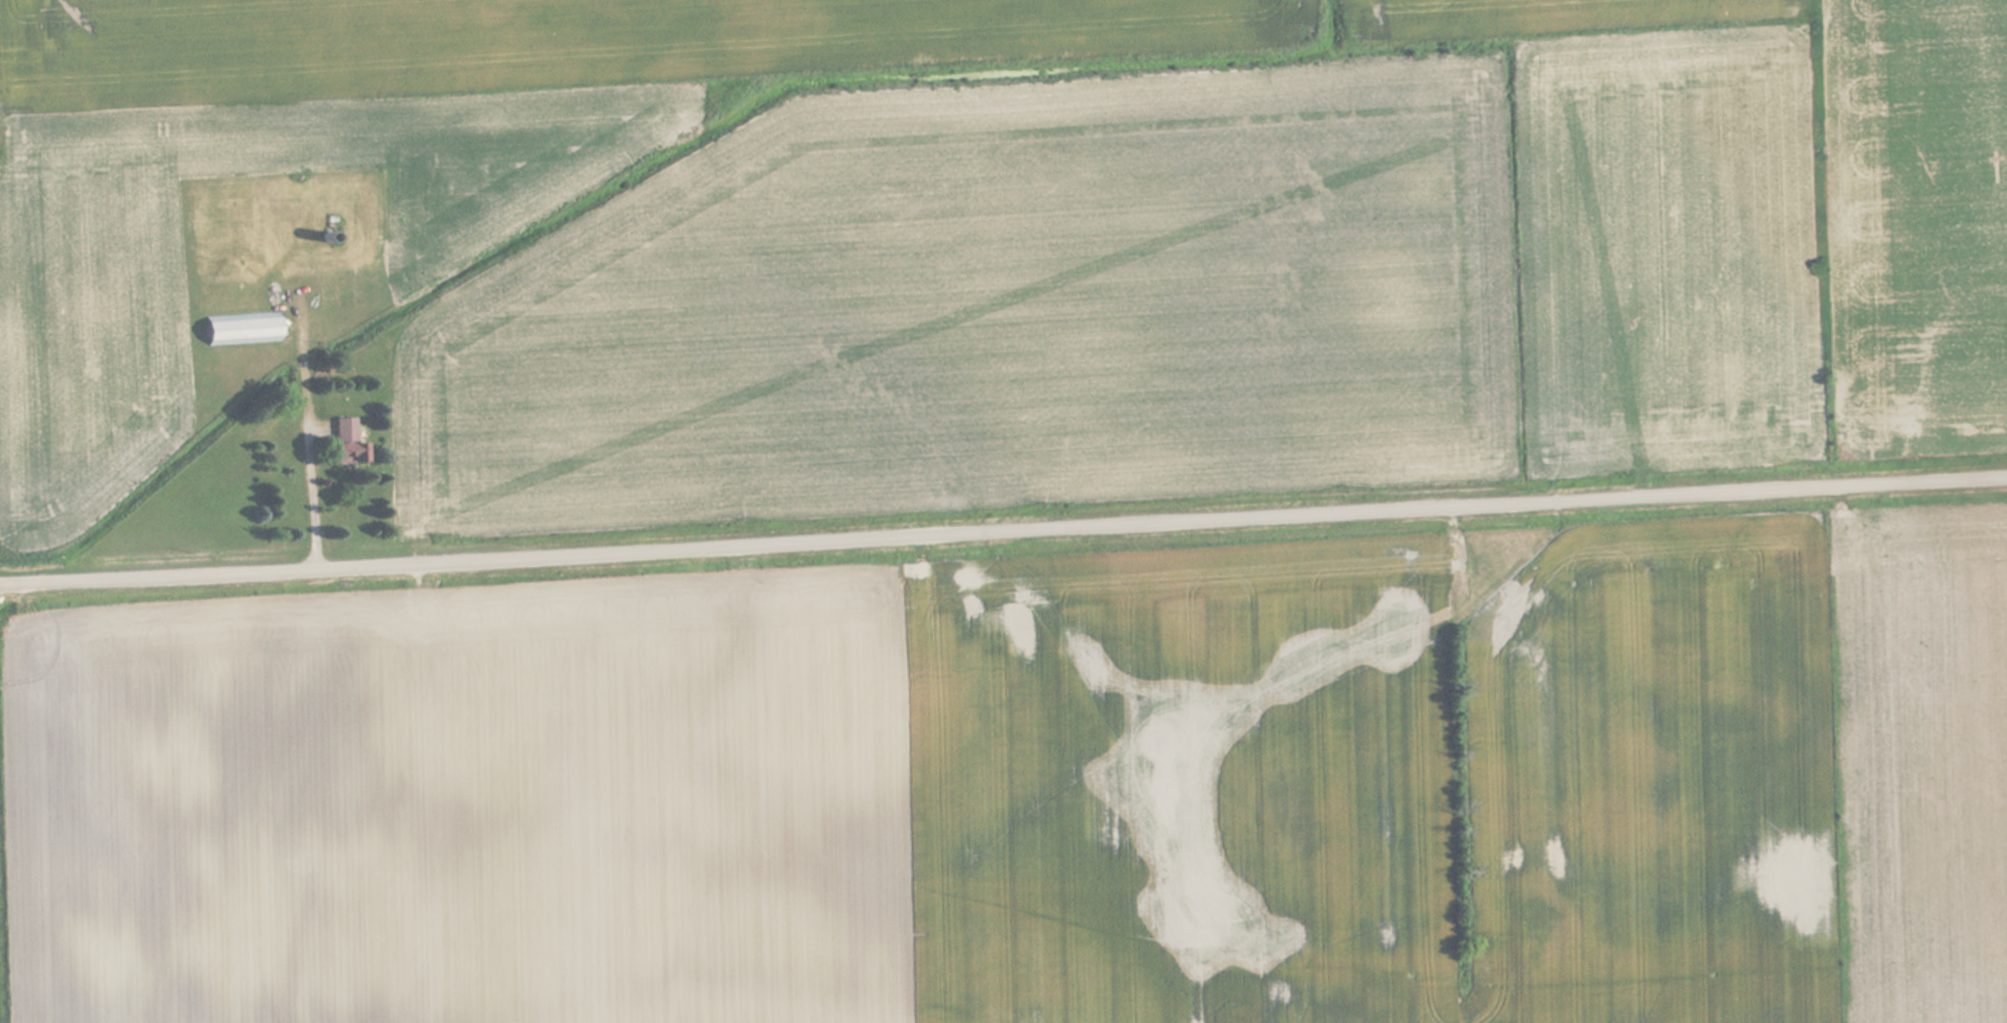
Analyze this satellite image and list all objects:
building: (244, 329)
building: (349, 443)
road: (1003, 531)

